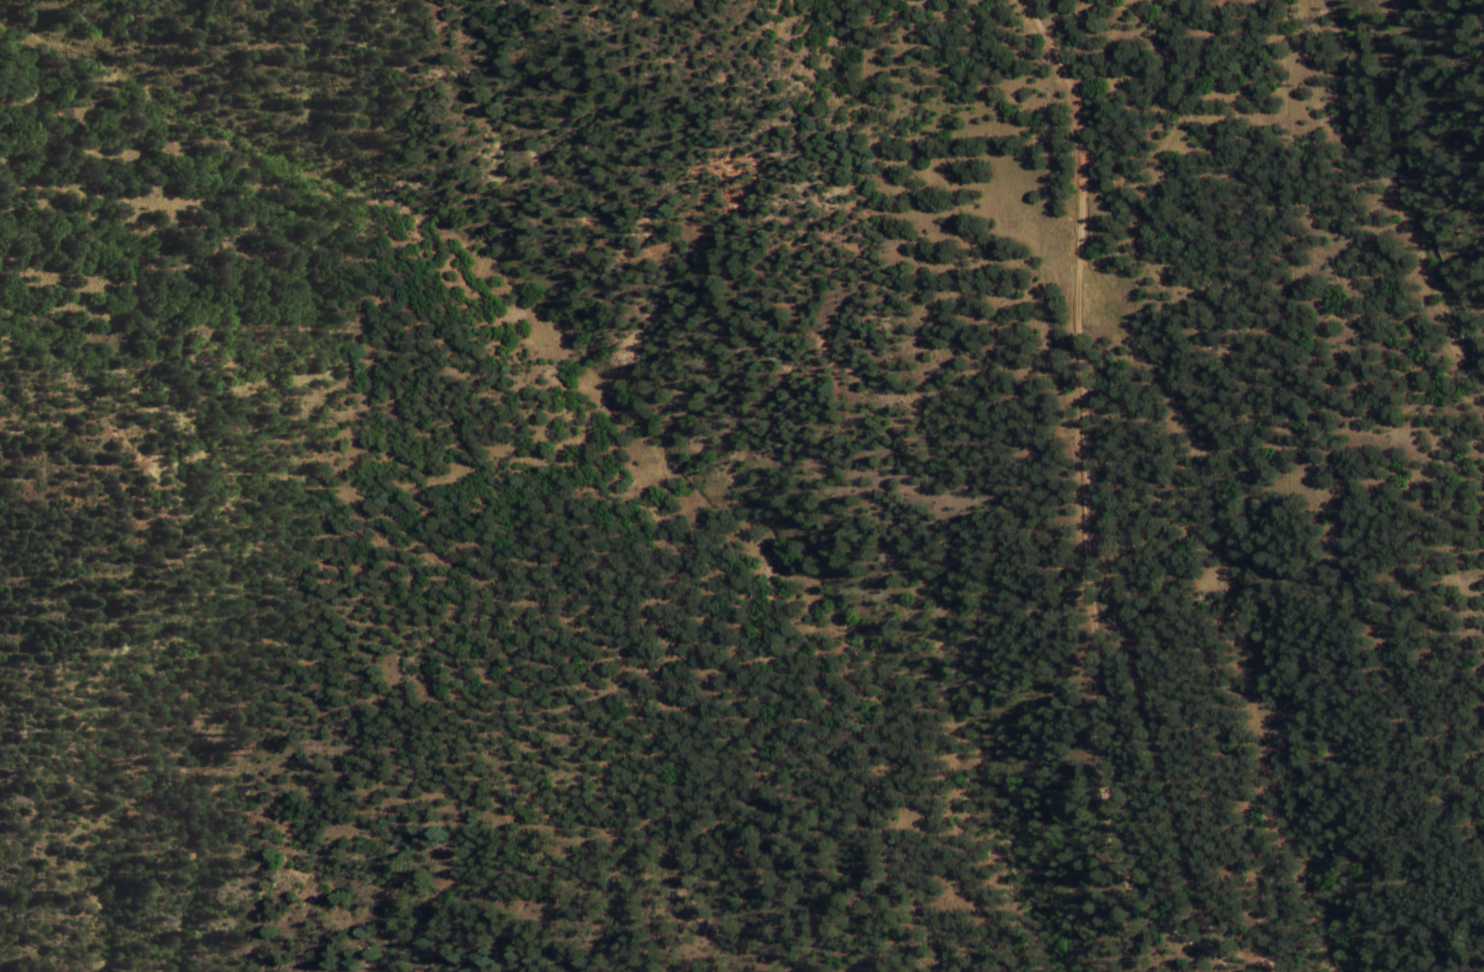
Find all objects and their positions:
road: (1064, 520)

